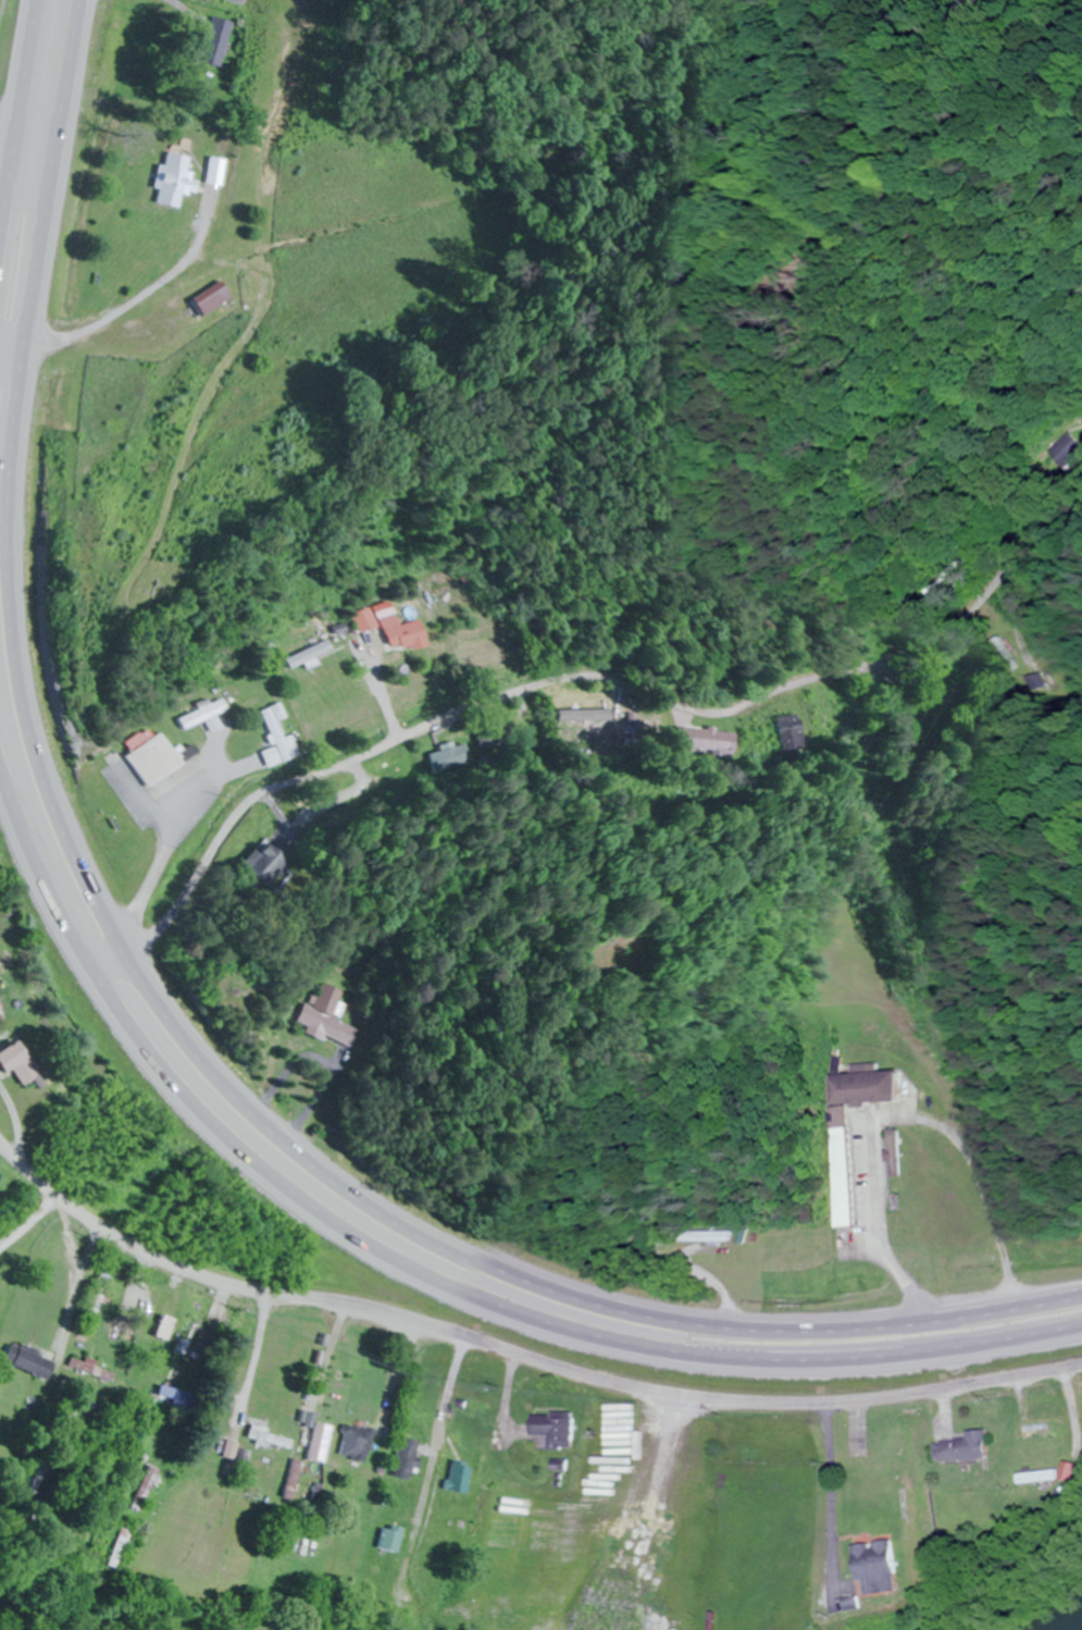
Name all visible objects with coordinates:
road: (212, 0)
building: (214, 45)
road: (18, 114)
road: (30, 150)
building: (212, 172)
building: (167, 181)
building: (209, 299)
building: (1066, 454)
building: (364, 620)
building: (399, 634)
building: (1016, 654)
building: (308, 656)
road: (476, 711)
building: (203, 717)
building: (786, 733)
building: (274, 738)
building: (714, 742)
building: (157, 761)
road: (172, 780)
building: (248, 865)
road: (161, 997)
building: (326, 1017)
building: (23, 1064)
building: (891, 1152)
building: (835, 1168)
road: (24, 1224)
building: (45, 1256)
road: (419, 1273)
building: (99, 1305)
building: (170, 1329)
building: (121, 1334)
building: (190, 1336)
road: (518, 1357)
building: (32, 1362)
building: (90, 1369)
building: (178, 1399)
building: (556, 1429)
building: (1034, 1433)
building: (269, 1438)
building: (323, 1443)
building: (358, 1443)
building: (963, 1446)
building: (408, 1459)
road: (435, 1471)
building: (1034, 1477)
building: (460, 1478)
building: (144, 1490)
building: (391, 1540)
building: (120, 1549)
building: (874, 1568)
river: (1073, 1625)

